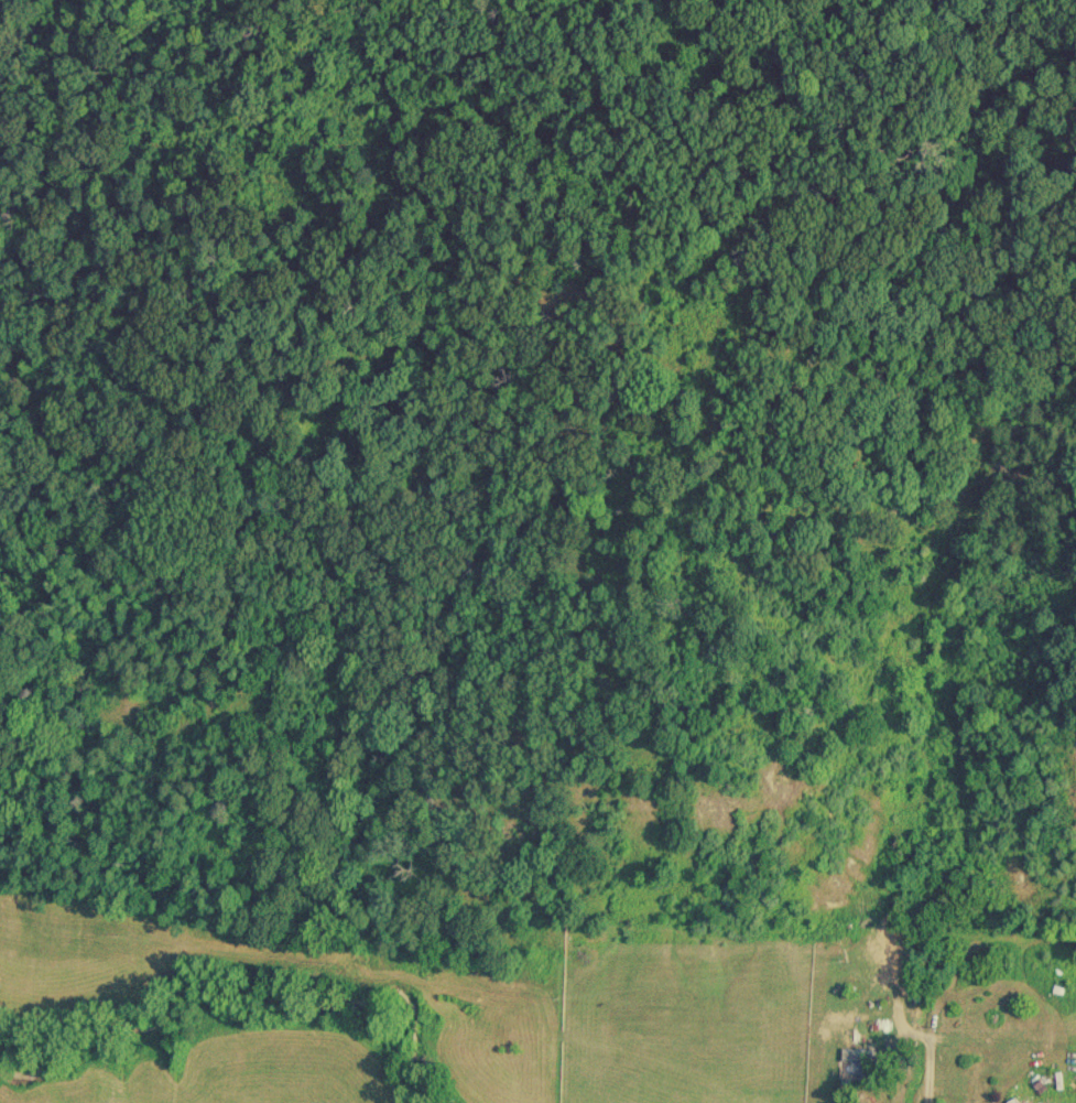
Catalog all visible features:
road: (921, 1080)

